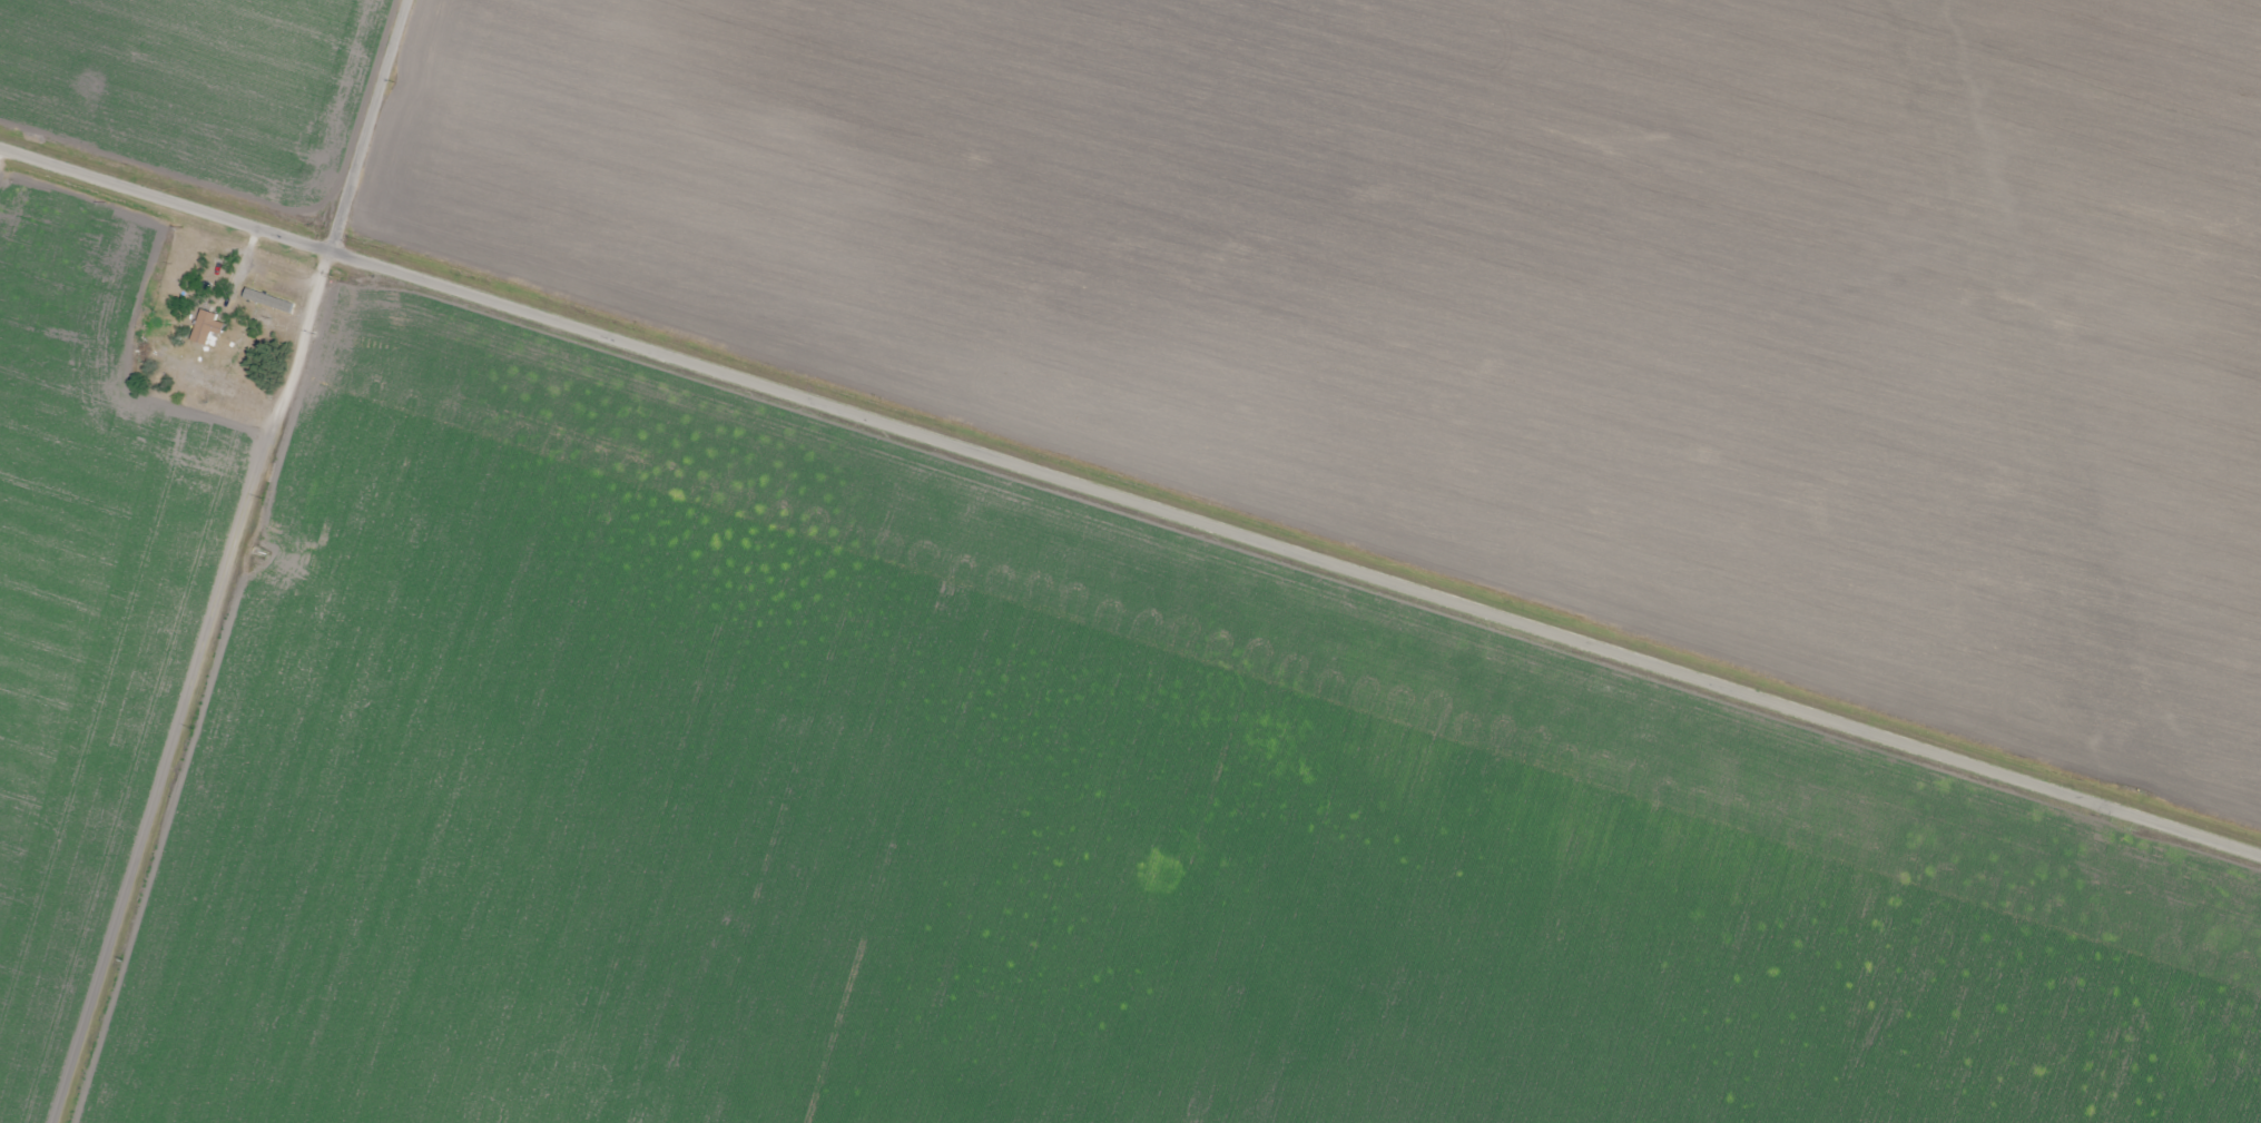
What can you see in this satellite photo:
building: (207, 326)
road: (1131, 481)
road: (262, 563)
building: (806, 749)

